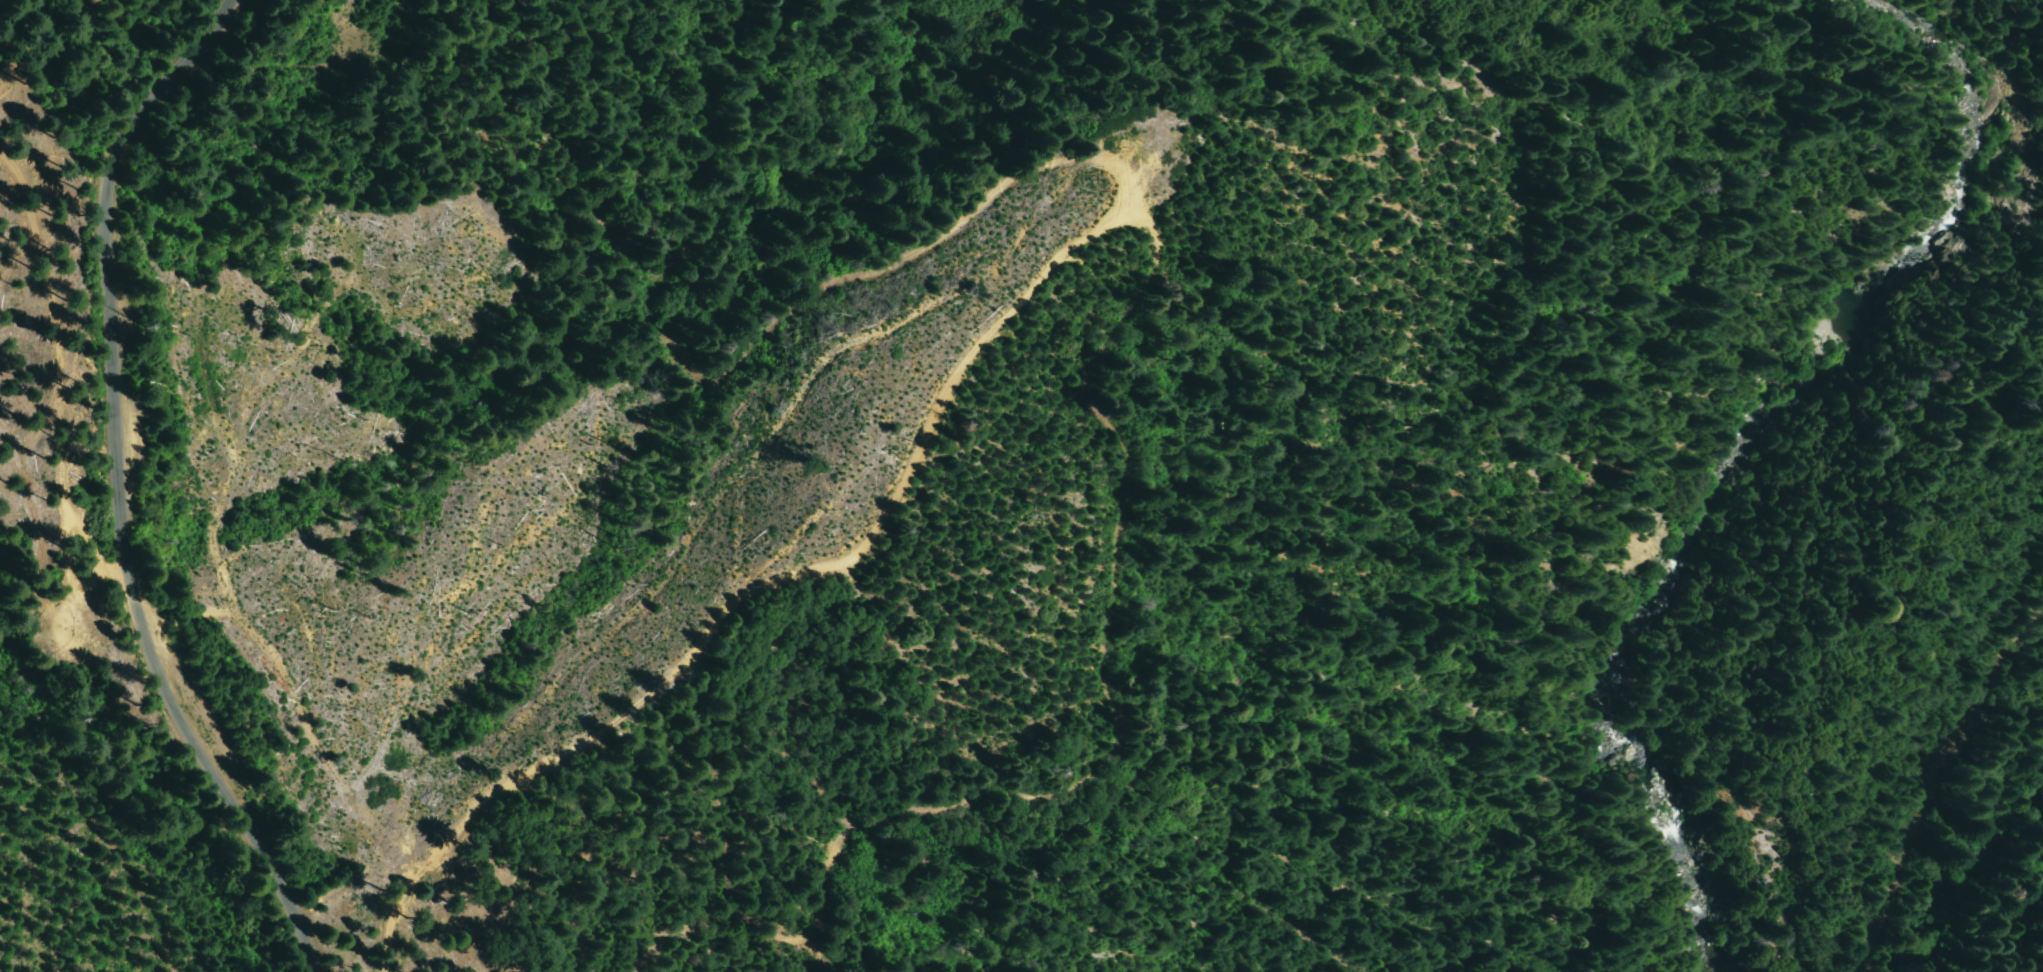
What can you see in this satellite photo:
river: (1721, 436)
road: (118, 485)
road: (1902, 745)
road: (843, 851)

